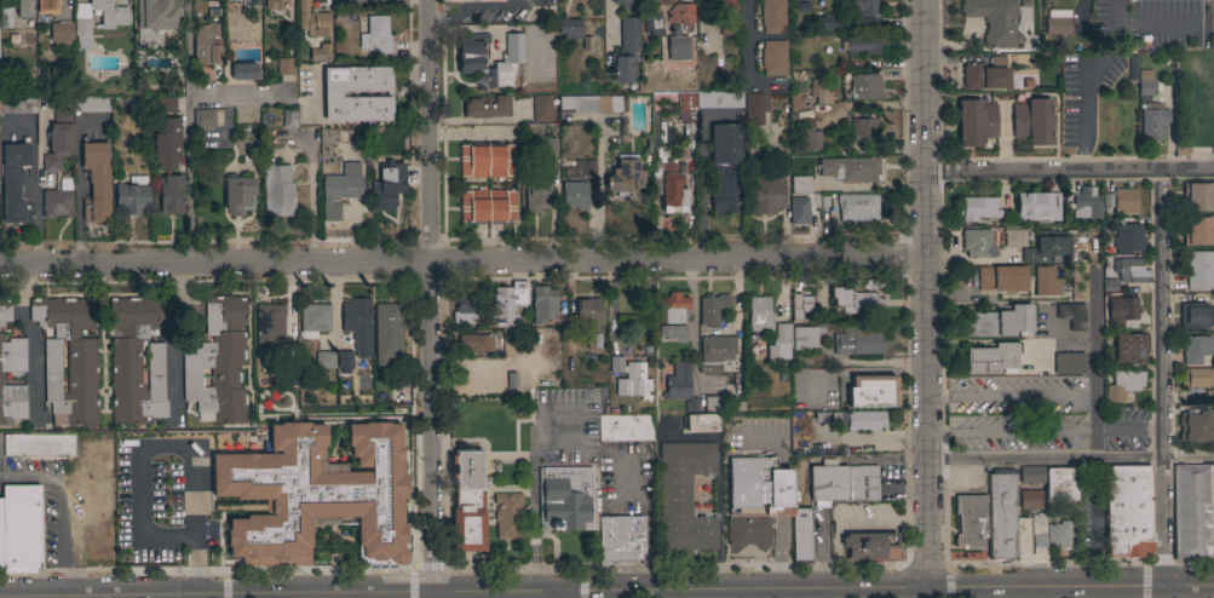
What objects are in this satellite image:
building: (473, 0)
building: (246, 2)
building: (623, 2)
building: (657, 2)
building: (275, 4)
building: (725, 4)
building: (47, 6)
building: (862, 6)
building: (24, 11)
building: (675, 12)
building: (157, 13)
building: (772, 16)
building: (6, 18)
road: (608, 19)
building: (312, 21)
building: (994, 21)
building: (823, 22)
building: (859, 22)
building: (650, 23)
building: (1057, 25)
building: (81, 27)
building: (727, 27)
building: (568, 29)
building: (61, 33)
building: (378, 35)
road: (744, 41)
building: (206, 45)
building: (862, 45)
building: (678, 50)
building: (625, 52)
building: (320, 53)
building: (470, 56)
building: (773, 58)
building: (284, 67)
building: (1132, 68)
building: (672, 71)
building: (242, 73)
building: (985, 74)
road: (1087, 81)
building: (1145, 82)
building: (864, 87)
building: (819, 92)
building: (332, 94)
building: (755, 102)
building: (707, 103)
building: (92, 104)
building: (589, 104)
building: (18, 105)
building: (166, 105)
building: (487, 107)
building: (541, 108)
building: (203, 119)
building: (289, 119)
building: (1153, 120)
building: (1032, 121)
building: (976, 122)
building: (865, 130)
road: (464, 132)
road: (186, 136)
building: (58, 139)
building: (810, 139)
building: (167, 143)
building: (724, 144)
building: (487, 160)
building: (850, 168)
road: (1069, 171)
building: (625, 176)
road: (704, 180)
building: (96, 182)
building: (384, 183)
building: (15, 184)
building: (800, 184)
road: (79, 185)
building: (576, 185)
building: (340, 189)
building: (277, 190)
building: (724, 190)
building: (537, 191)
building: (671, 191)
building: (763, 192)
building: (238, 194)
building: (171, 195)
building: (132, 196)
building: (1197, 197)
building: (57, 201)
building: (1121, 201)
building: (1084, 205)
building: (487, 206)
building: (1037, 206)
building: (857, 207)
building: (978, 208)
building: (798, 211)
road: (35, 230)
building: (1199, 232)
building: (1123, 235)
building: (977, 243)
building: (1038, 245)
road: (462, 260)
building: (1199, 269)
building: (1129, 270)
building: (1001, 278)
building: (1046, 281)
building: (1078, 282)
road: (926, 295)
road: (426, 298)
building: (853, 301)
building: (506, 304)
building: (542, 304)
building: (801, 305)
building: (1124, 307)
building: (466, 309)
building: (712, 309)
building: (5, 311)
building: (586, 311)
building: (759, 315)
building: (1071, 315)
building: (1196, 315)
building: (672, 316)
building: (356, 317)
building: (313, 320)
road: (694, 320)
building: (1000, 322)
building: (267, 328)
building: (386, 333)
road: (1059, 333)
building: (811, 335)
building: (857, 339)
road: (35, 341)
road: (1051, 341)
building: (474, 343)
building: (779, 343)
road: (174, 344)
building: (1129, 347)
building: (1195, 349)
building: (714, 352)
building: (993, 358)
building: (68, 360)
building: (323, 360)
building: (344, 360)
building: (136, 361)
road: (1094, 361)
building: (218, 363)
building: (1069, 363)
building: (1197, 378)
building: (1, 379)
building: (629, 379)
road: (1161, 379)
building: (1122, 384)
building: (679, 385)
building: (873, 391)
building: (713, 403)
building: (859, 420)
building: (701, 422)
building: (623, 427)
building: (1196, 427)
building: (39, 445)
road: (1071, 460)
building: (1032, 475)
building: (828, 483)
building: (862, 483)
building: (1000, 484)
building: (1059, 484)
building: (316, 491)
building: (684, 496)
building: (564, 499)
building: (755, 500)
building: (467, 502)
building: (1191, 511)
building: (1212, 511)
road: (61, 512)
building: (1127, 512)
building: (508, 516)
road: (531, 519)
building: (970, 521)
building: (21, 528)
building: (1001, 530)
road: (157, 533)
building: (1, 534)
building: (1058, 534)
building: (801, 536)
building: (1037, 536)
building: (621, 541)
building: (870, 547)
building: (98, 550)
road: (1189, 588)
road: (1047, 591)
road: (680, 593)
road: (869, 594)
road: (984, 594)
road: (563, 596)
road: (662, 596)
road: (787, 596)
road: (806, 596)
road: (269, 597)

